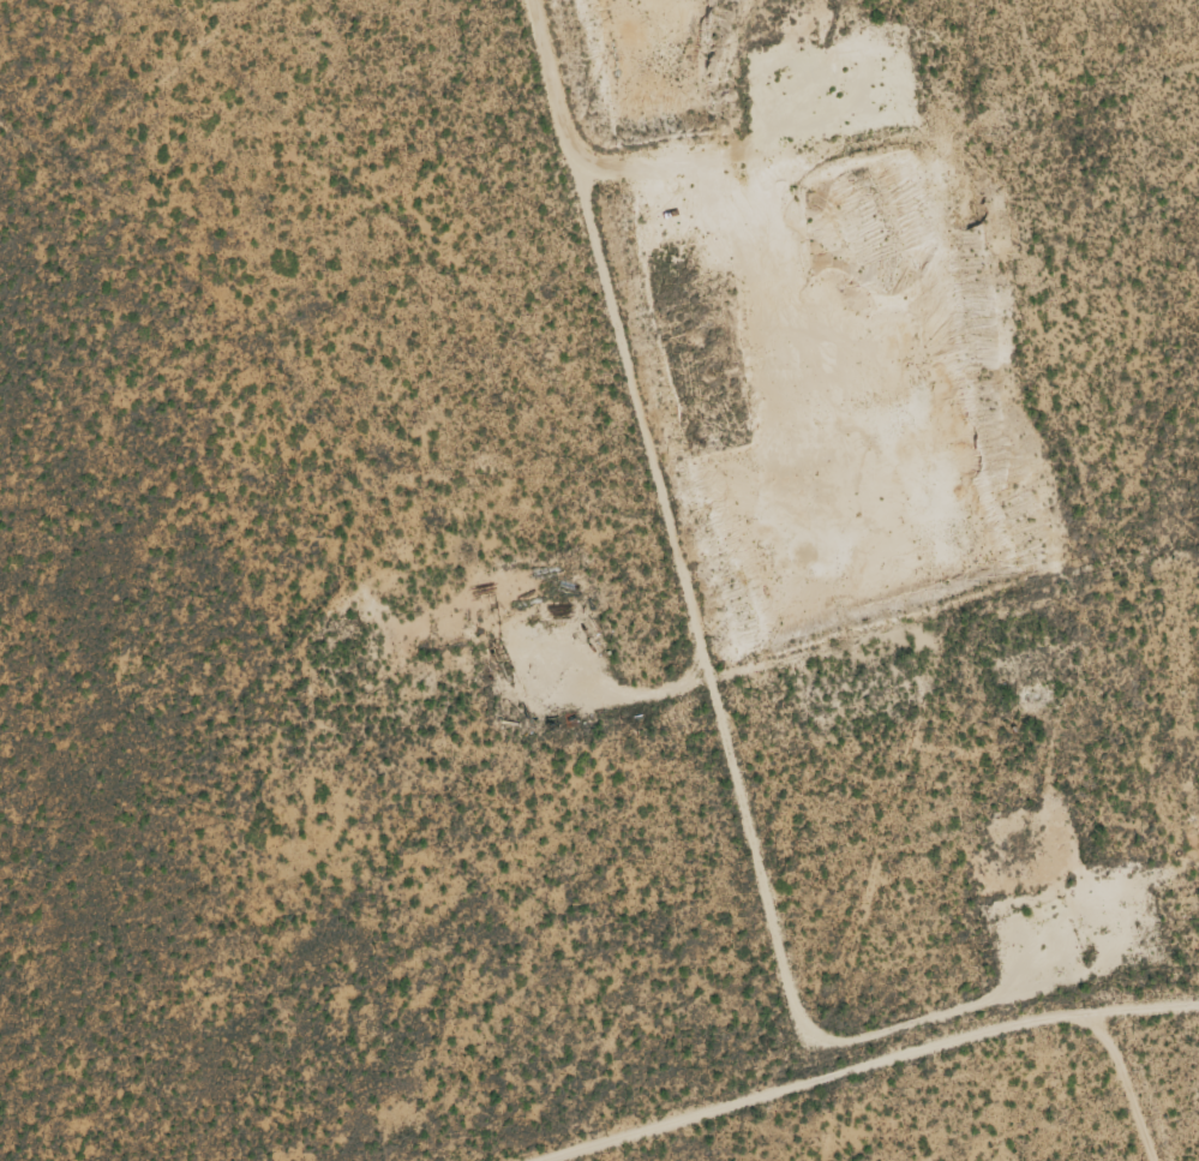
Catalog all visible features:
road: (889, 628)
road: (855, 1064)

